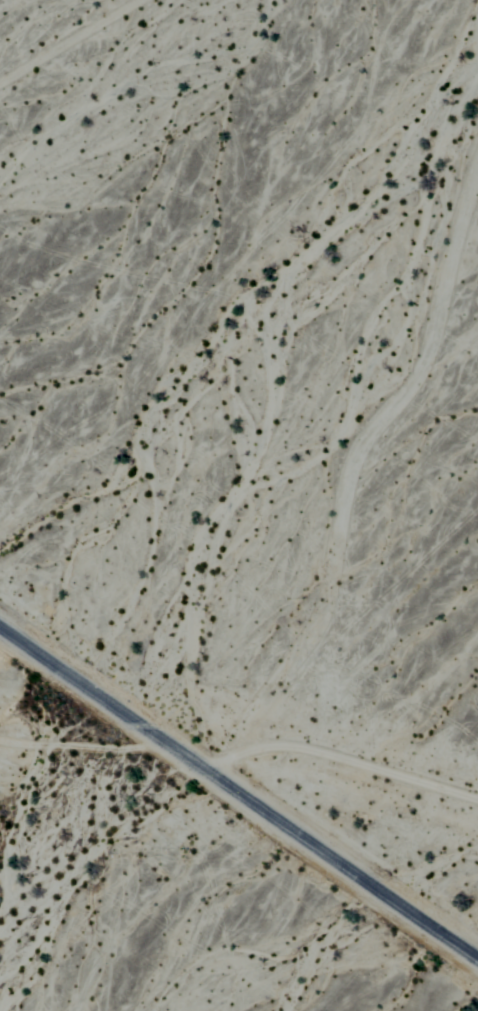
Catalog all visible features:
road: (239, 791)

